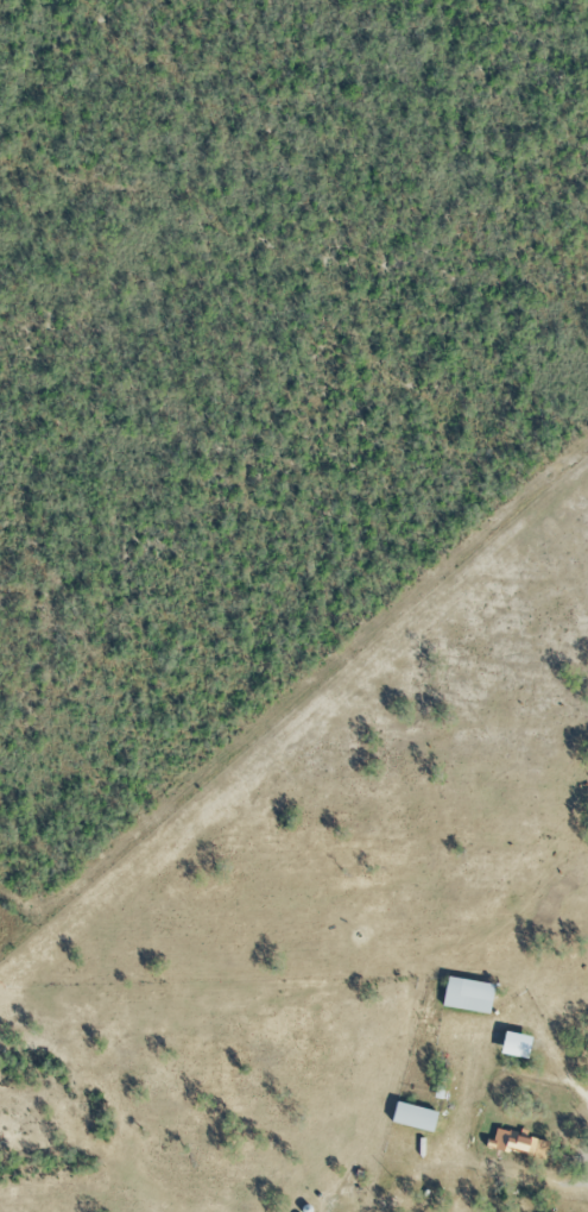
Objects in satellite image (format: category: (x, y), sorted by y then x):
building: (467, 997)
park: (34, 1118)
building: (520, 1147)

